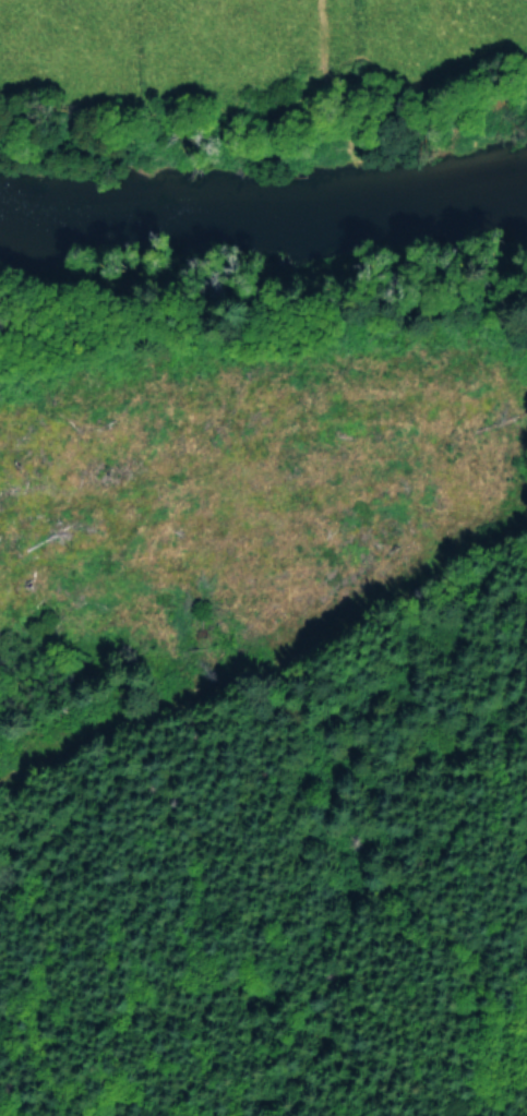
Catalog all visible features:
crop: (259, 44)
river: (263, 212)

